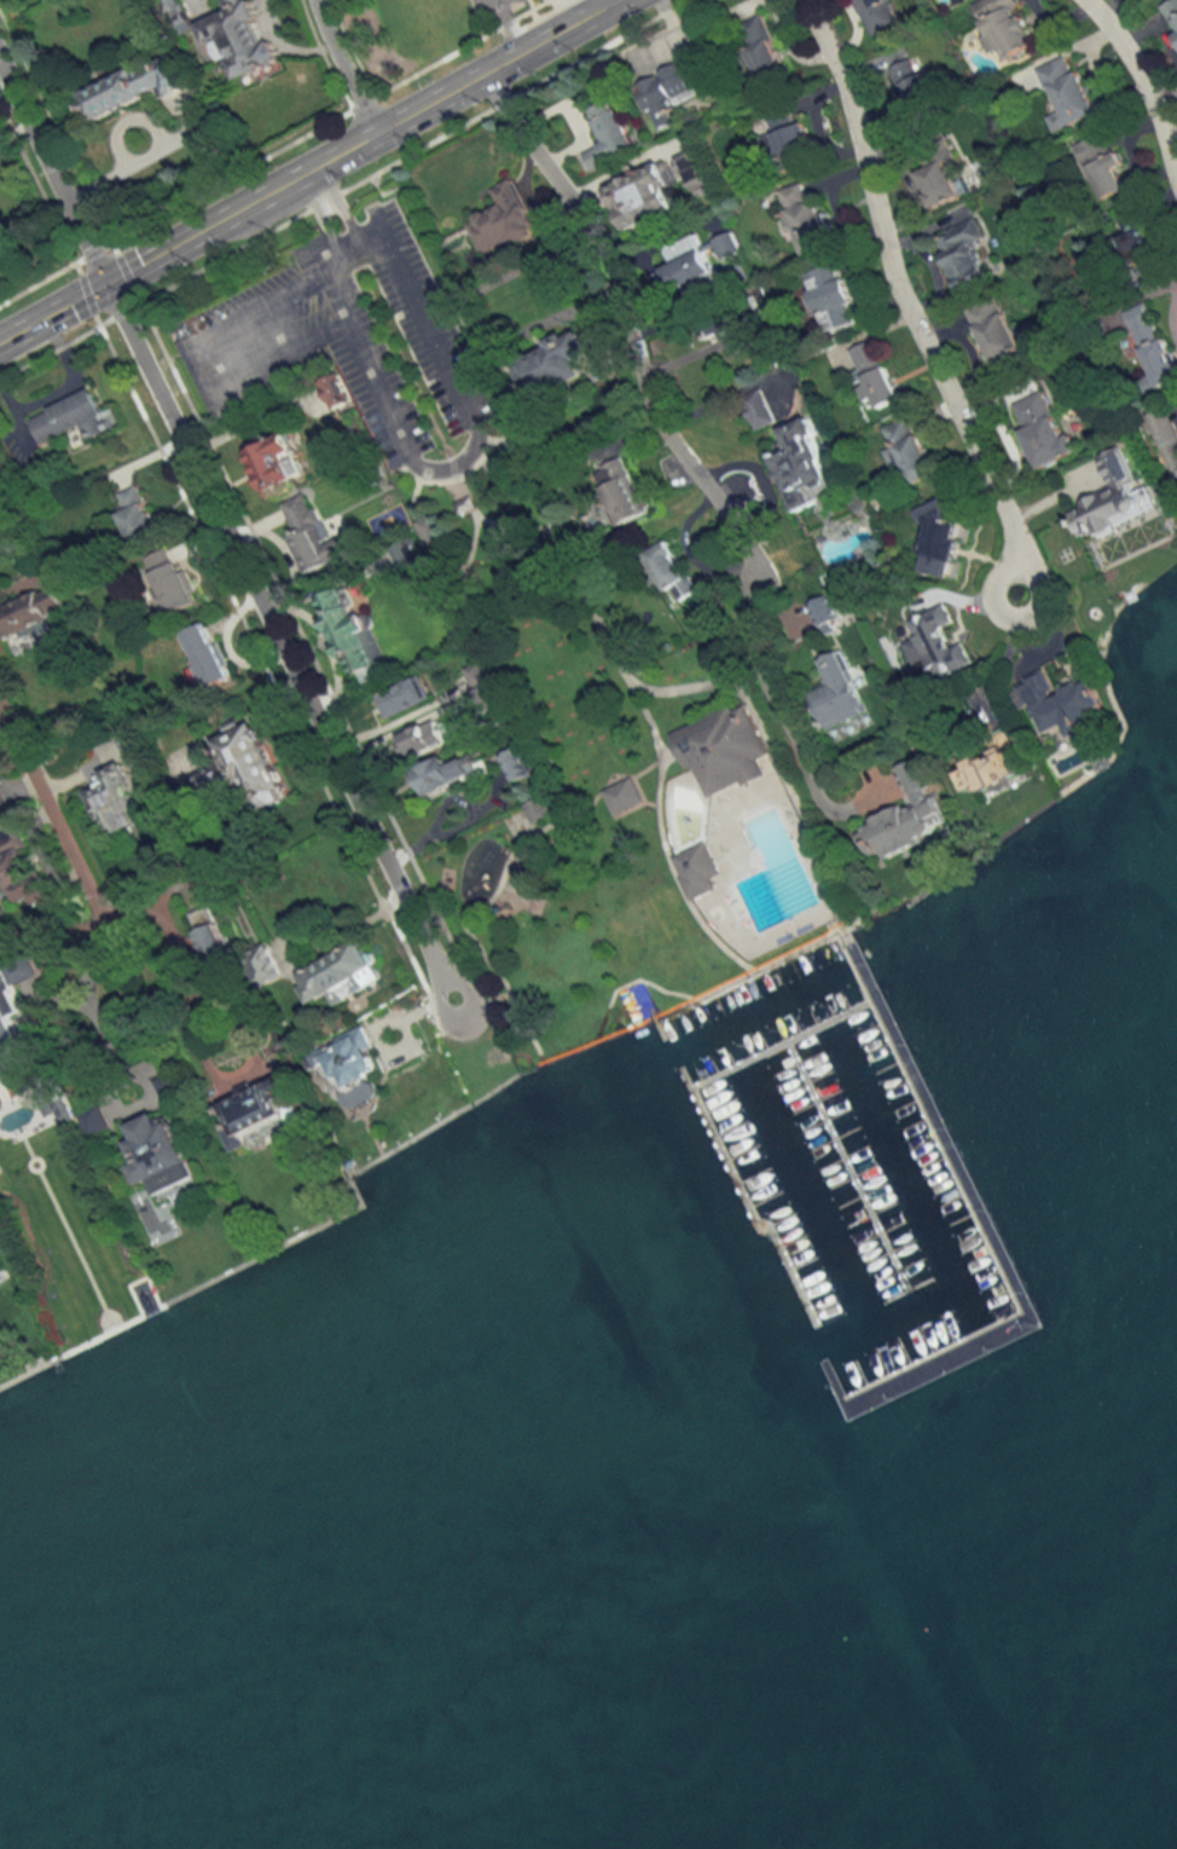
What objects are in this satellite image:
building: (876, 13)
building: (1171, 13)
building: (179, 15)
road: (509, 24)
building: (1004, 25)
building: (240, 39)
building: (764, 48)
road: (341, 65)
building: (914, 82)
road: (1142, 83)
building: (134, 86)
building: (669, 89)
building: (1067, 94)
road: (15, 129)
building: (609, 135)
building: (787, 135)
road: (355, 139)
road: (157, 146)
building: (1102, 162)
building: (691, 166)
building: (939, 180)
road: (346, 190)
building: (644, 195)
road: (342, 200)
road: (320, 212)
building: (503, 219)
building: (807, 220)
building: (1132, 235)
building: (964, 254)
building: (697, 265)
traffic signals: (105, 279)
building: (834, 296)
road: (450, 297)
road: (903, 302)
road: (52, 307)
building: (729, 320)
road: (618, 328)
building: (996, 331)
building: (1152, 343)
building: (555, 363)
road: (199, 368)
building: (875, 374)
building: (334, 388)
building: (759, 409)
building: (74, 417)
building: (1043, 431)
building: (908, 451)
building: (277, 462)
building: (804, 464)
road: (445, 468)
road: (452, 478)
building: (620, 491)
road: (413, 497)
building: (1114, 498)
building: (464, 504)
building: (137, 514)
road: (515, 525)
building: (307, 530)
road: (225, 531)
building: (428, 532)
building: (940, 537)
building: (0, 547)
building: (405, 559)
road: (452, 561)
building: (671, 572)
building: (170, 582)
building: (30, 613)
building: (827, 616)
building: (353, 635)
building: (937, 642)
road: (1004, 652)
building: (208, 654)
park: (534, 660)
road: (501, 675)
building: (480, 687)
road: (676, 689)
building: (839, 691)
building: (404, 695)
building: (1063, 704)
road: (772, 705)
building: (423, 739)
building: (723, 747)
building: (516, 763)
building: (991, 769)
building: (239, 772)
road: (636, 772)
building: (445, 773)
building: (622, 796)
building: (116, 799)
road: (605, 804)
road: (582, 805)
park: (685, 811)
building: (904, 817)
road: (440, 819)
road: (53, 821)
road: (661, 839)
building: (15, 860)
building: (695, 869)
building: (207, 932)
building: (263, 965)
road: (753, 969)
building: (22, 970)
building: (341, 973)
road: (630, 982)
road: (480, 1000)
road: (89, 1009)
building: (7, 1025)
road: (191, 1034)
road: (575, 1042)
building: (346, 1058)
building: (168, 1086)
building: (360, 1094)
building: (259, 1109)
pier: (723, 1110)
building: (94, 1121)
building: (161, 1155)
pier: (850, 1158)
pier: (982, 1219)

